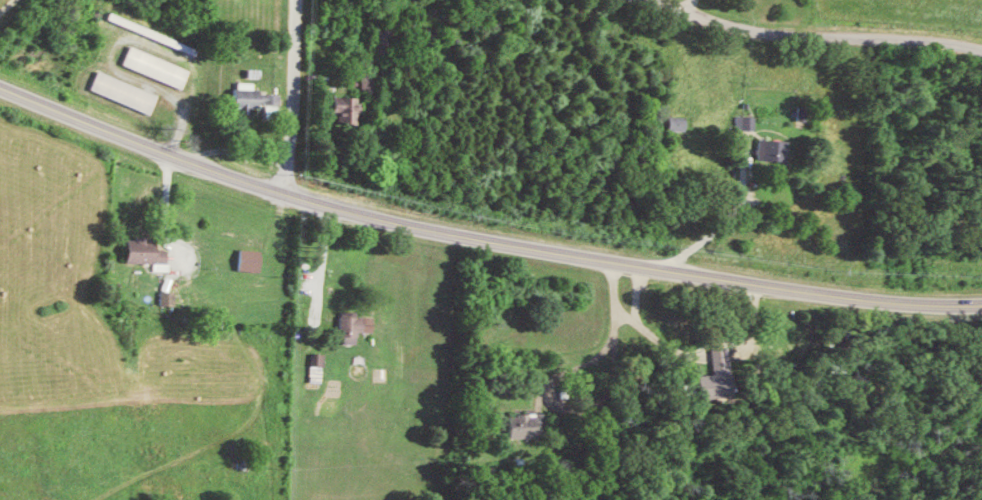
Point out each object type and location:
road: (815, 34)
building: (170, 39)
building: (160, 66)
building: (372, 83)
building: (127, 92)
building: (257, 97)
road: (290, 97)
building: (350, 108)
building: (752, 122)
building: (683, 123)
building: (779, 150)
road: (731, 218)
road: (166, 220)
road: (481, 239)
building: (148, 252)
building: (252, 260)
road: (325, 271)
building: (170, 298)
building: (353, 325)
building: (321, 367)
building: (720, 376)
building: (530, 425)

